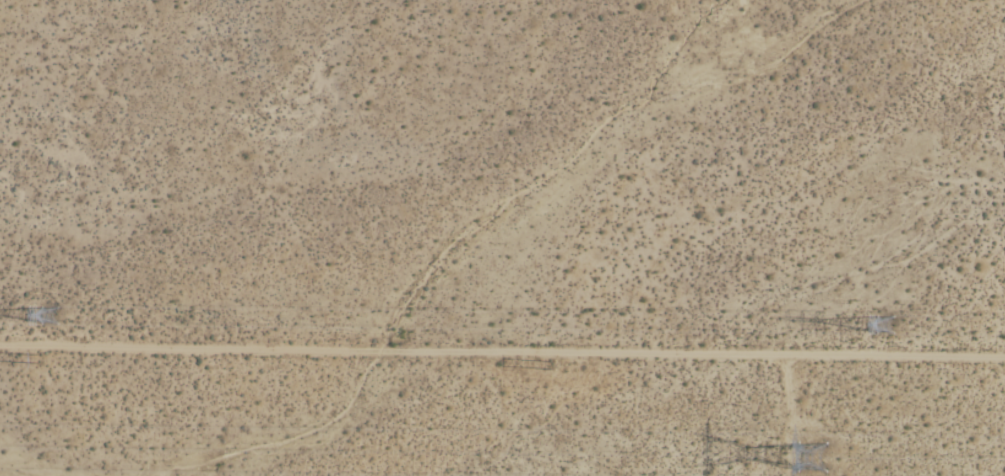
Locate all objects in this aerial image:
power tower: (51, 317)
road: (502, 352)
power tower: (38, 359)
power tower: (558, 366)
power tower: (830, 455)

